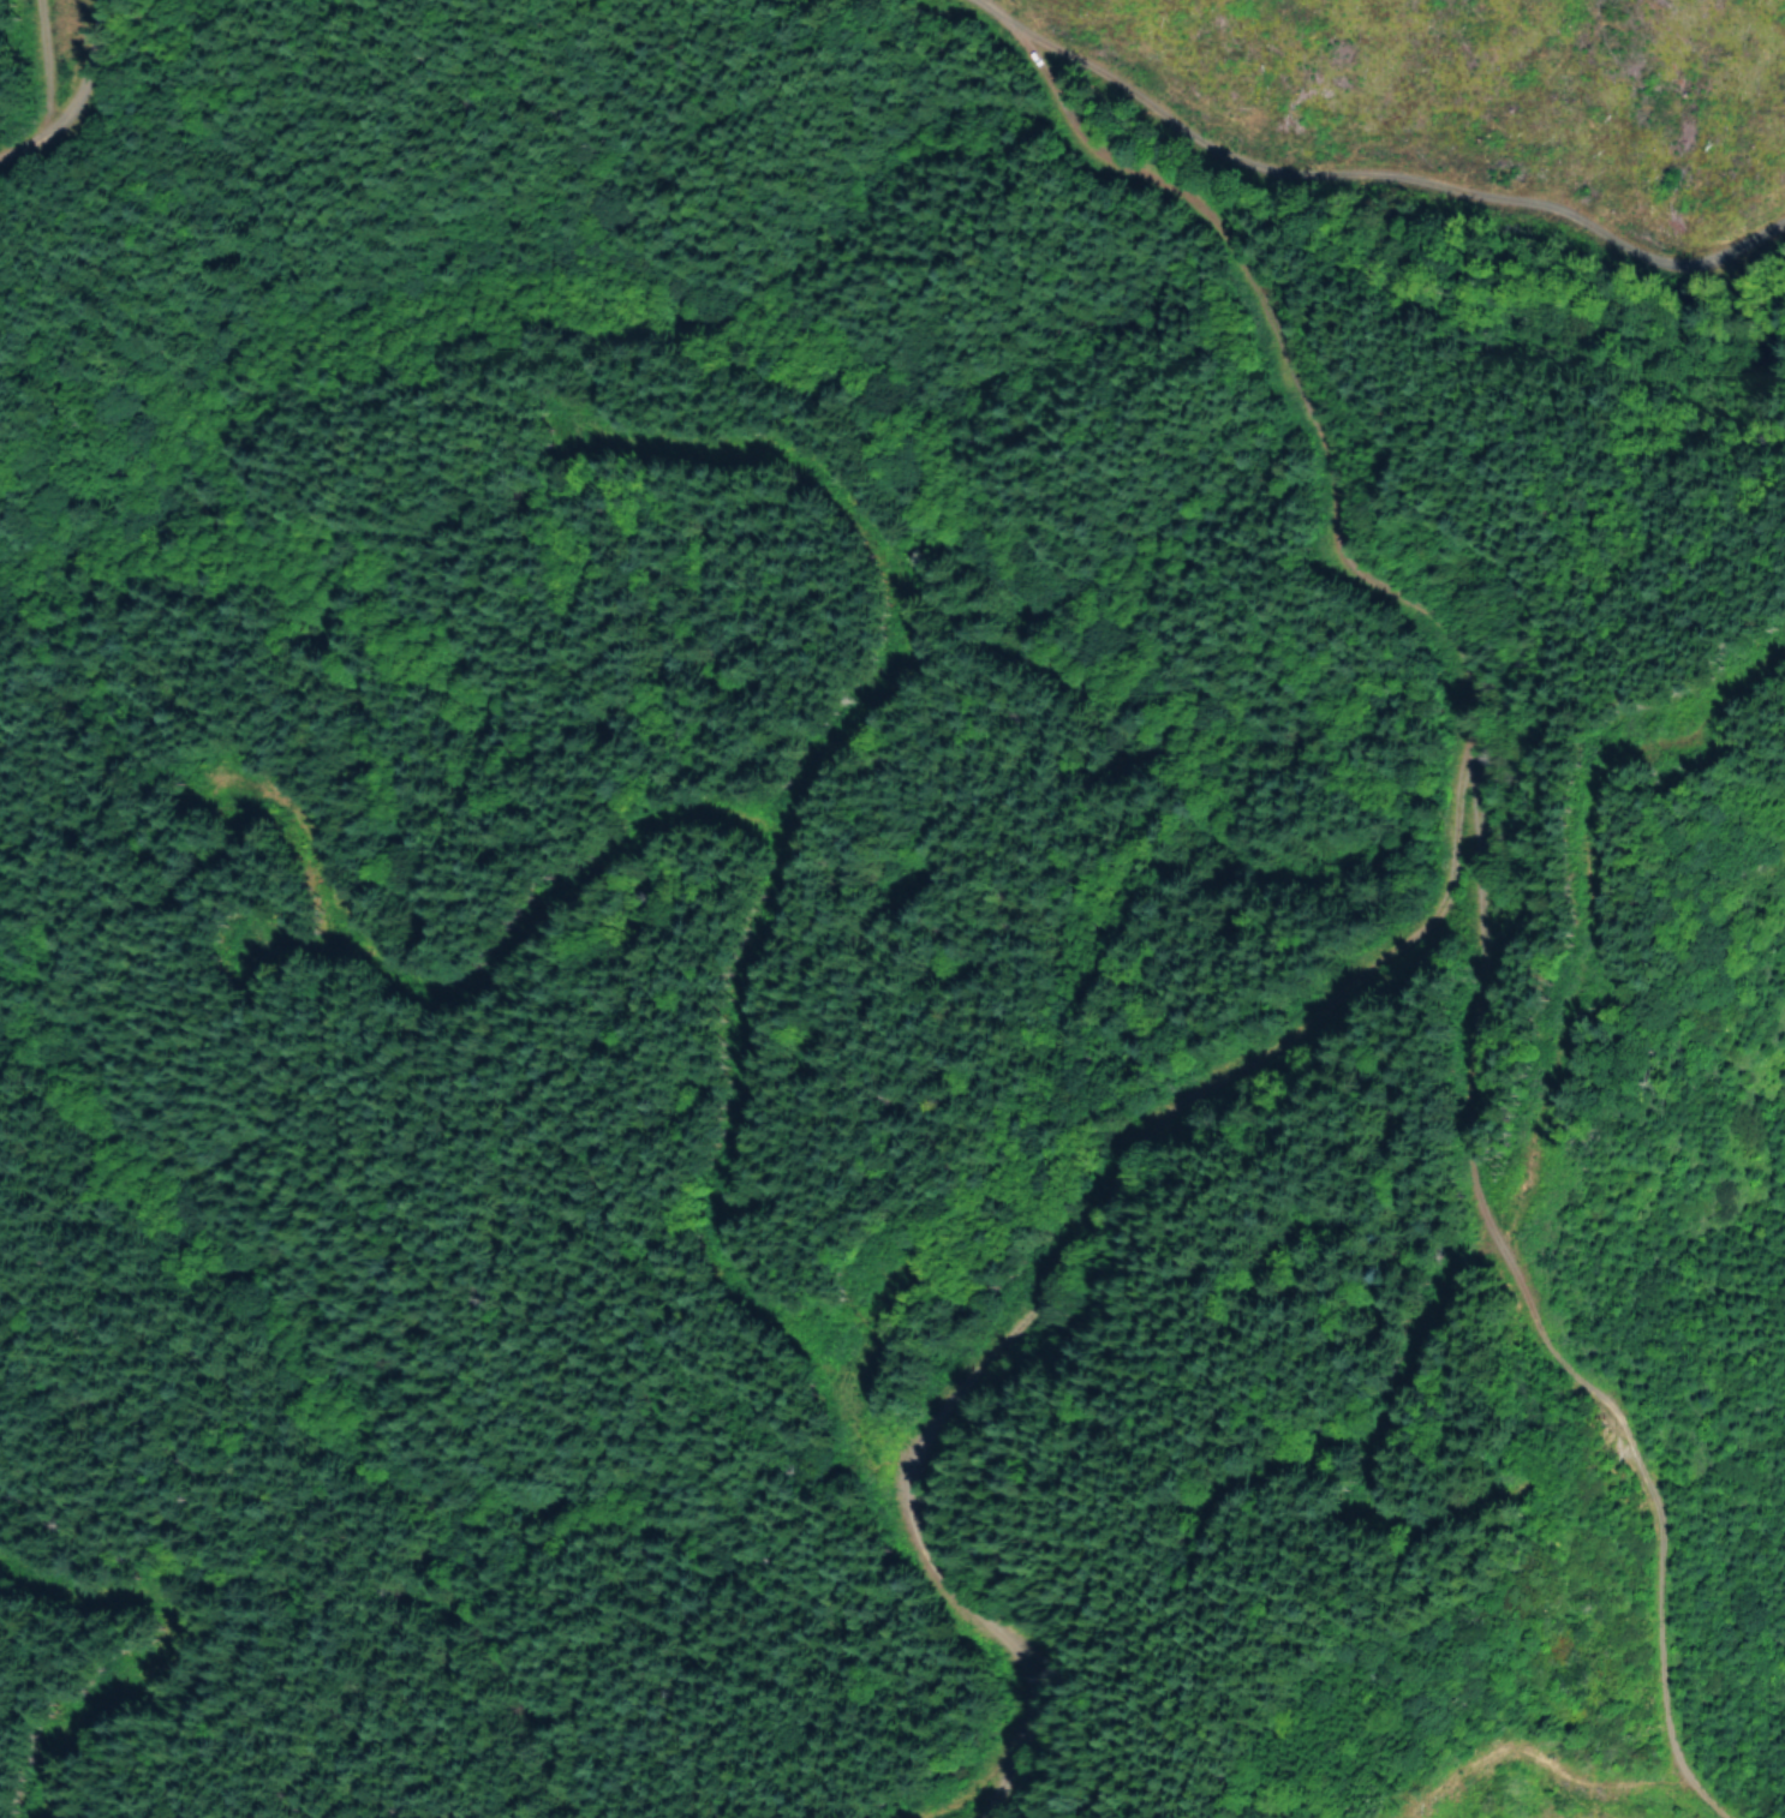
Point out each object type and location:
road: (61, 40)
road: (123, 58)
road: (1285, 179)
road: (1462, 1024)
road: (589, 1466)
road: (1733, 1777)

